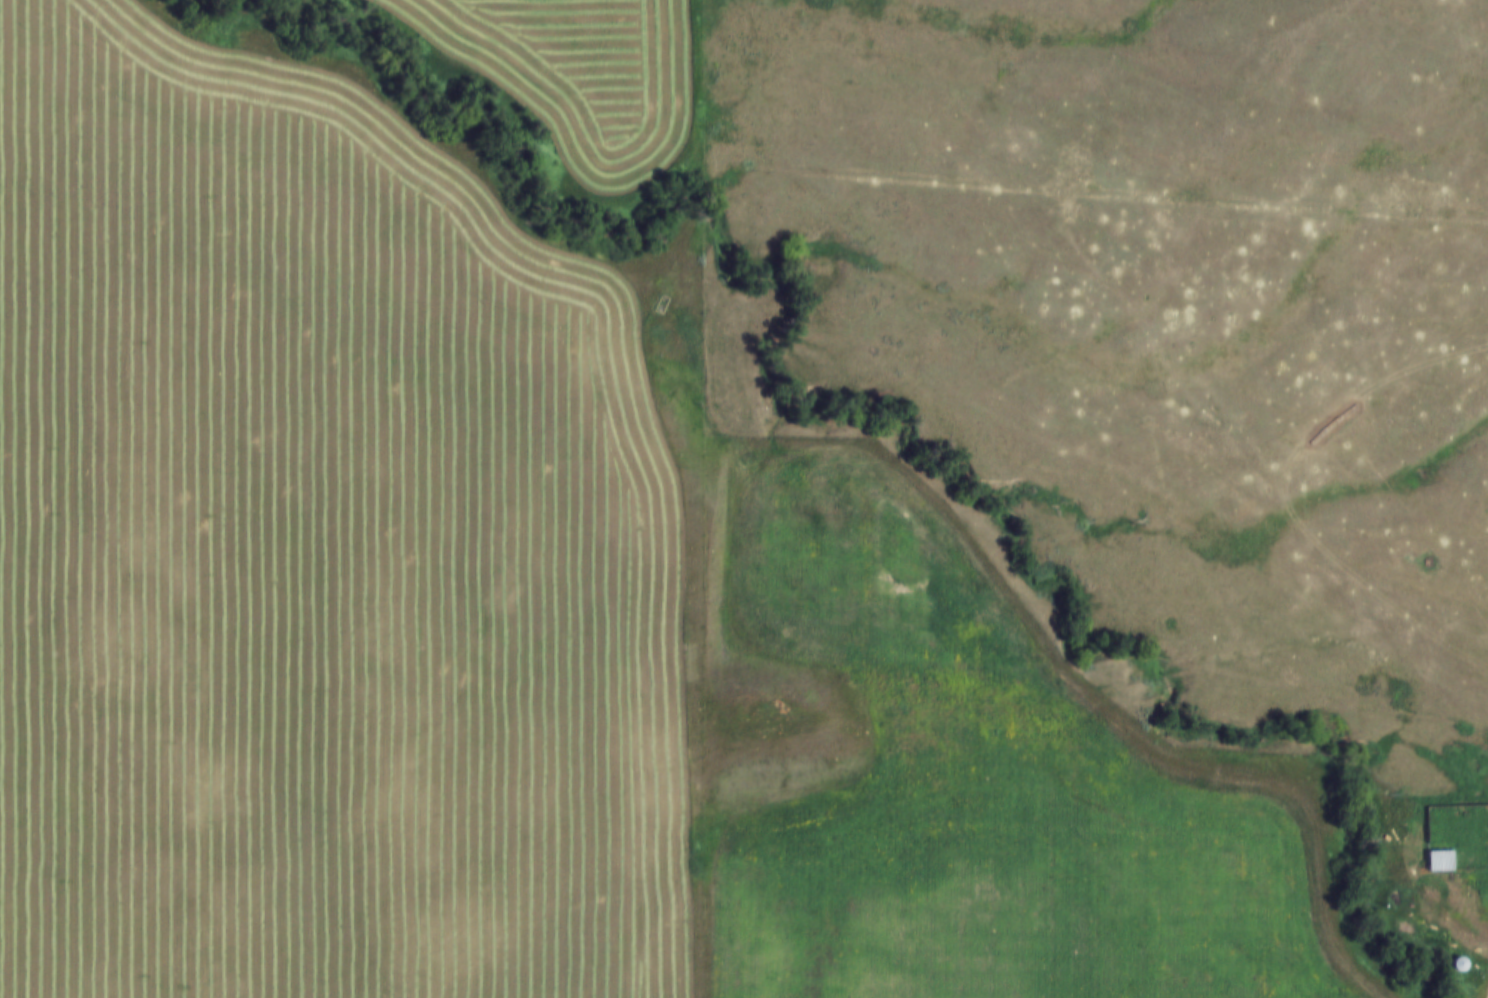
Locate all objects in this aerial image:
building: (1441, 861)
building: (1460, 965)

